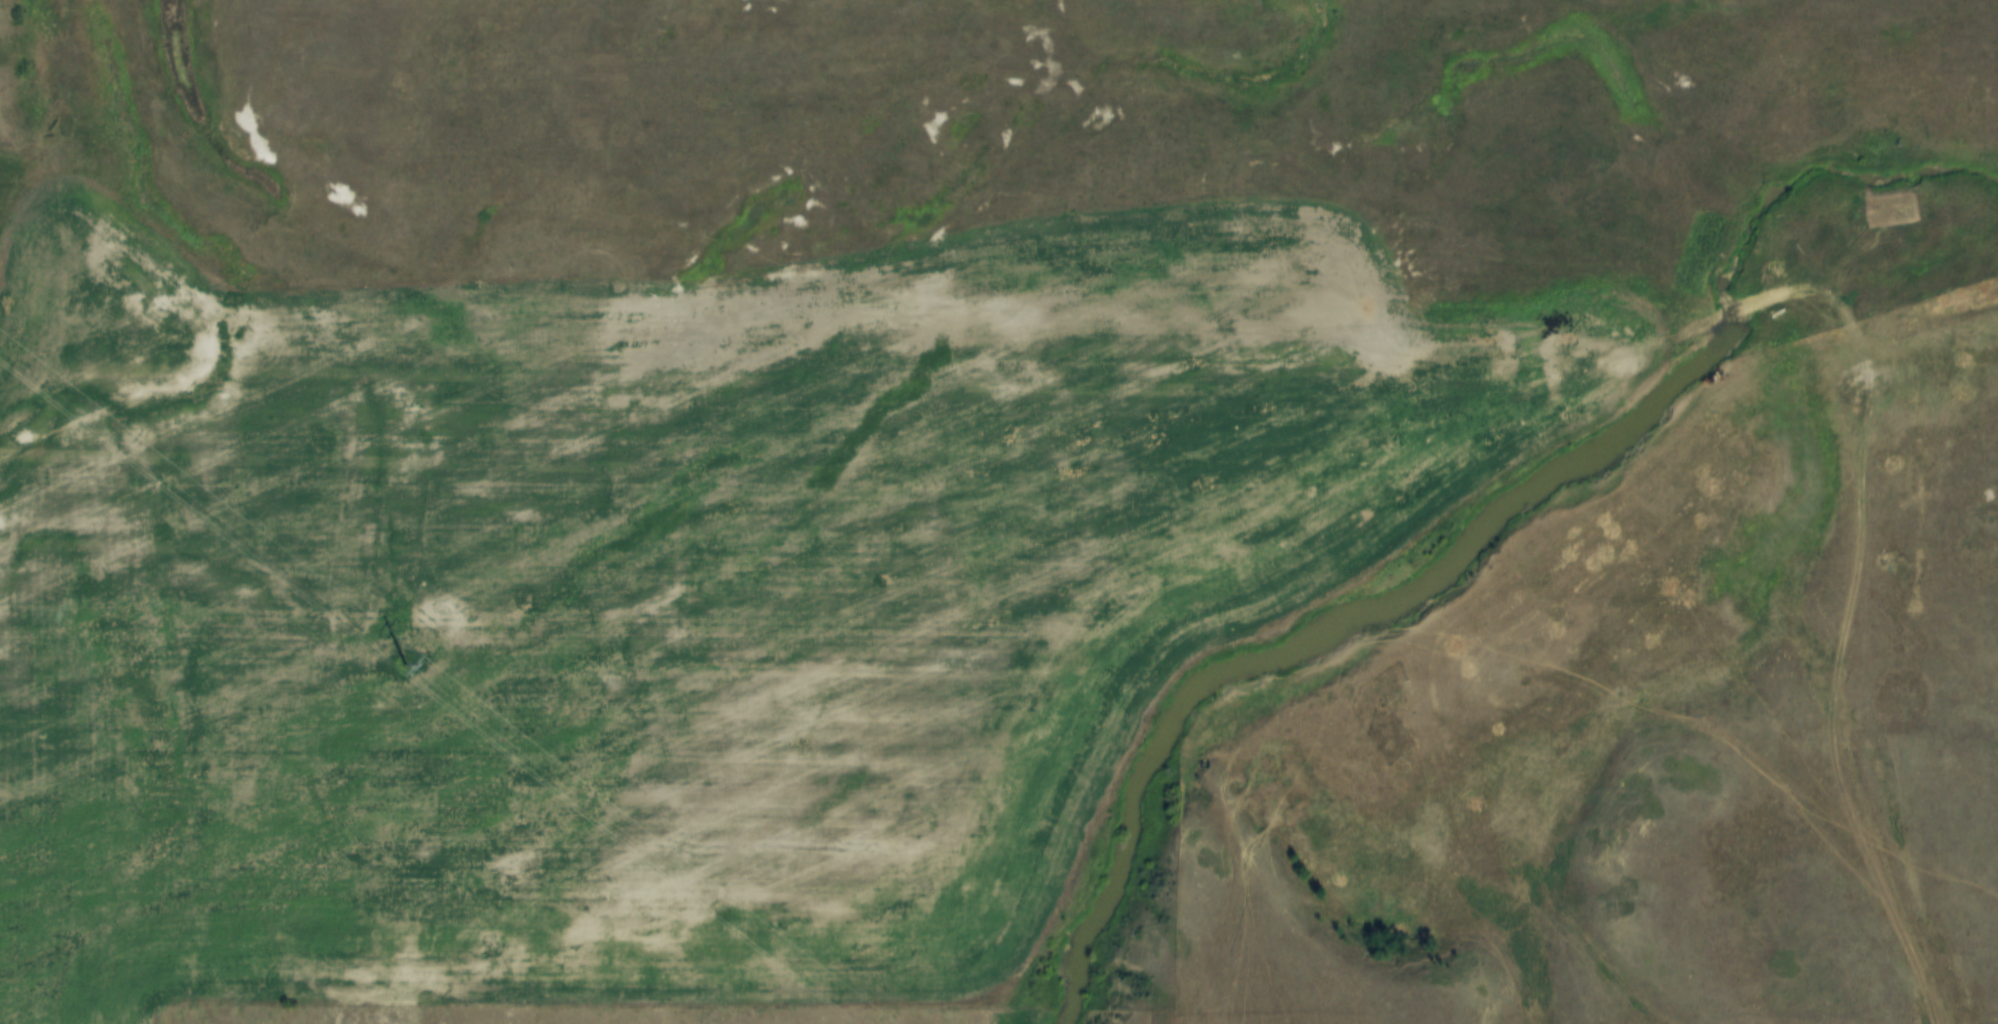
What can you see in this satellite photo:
power tower: (404, 663)
road: (1752, 756)

